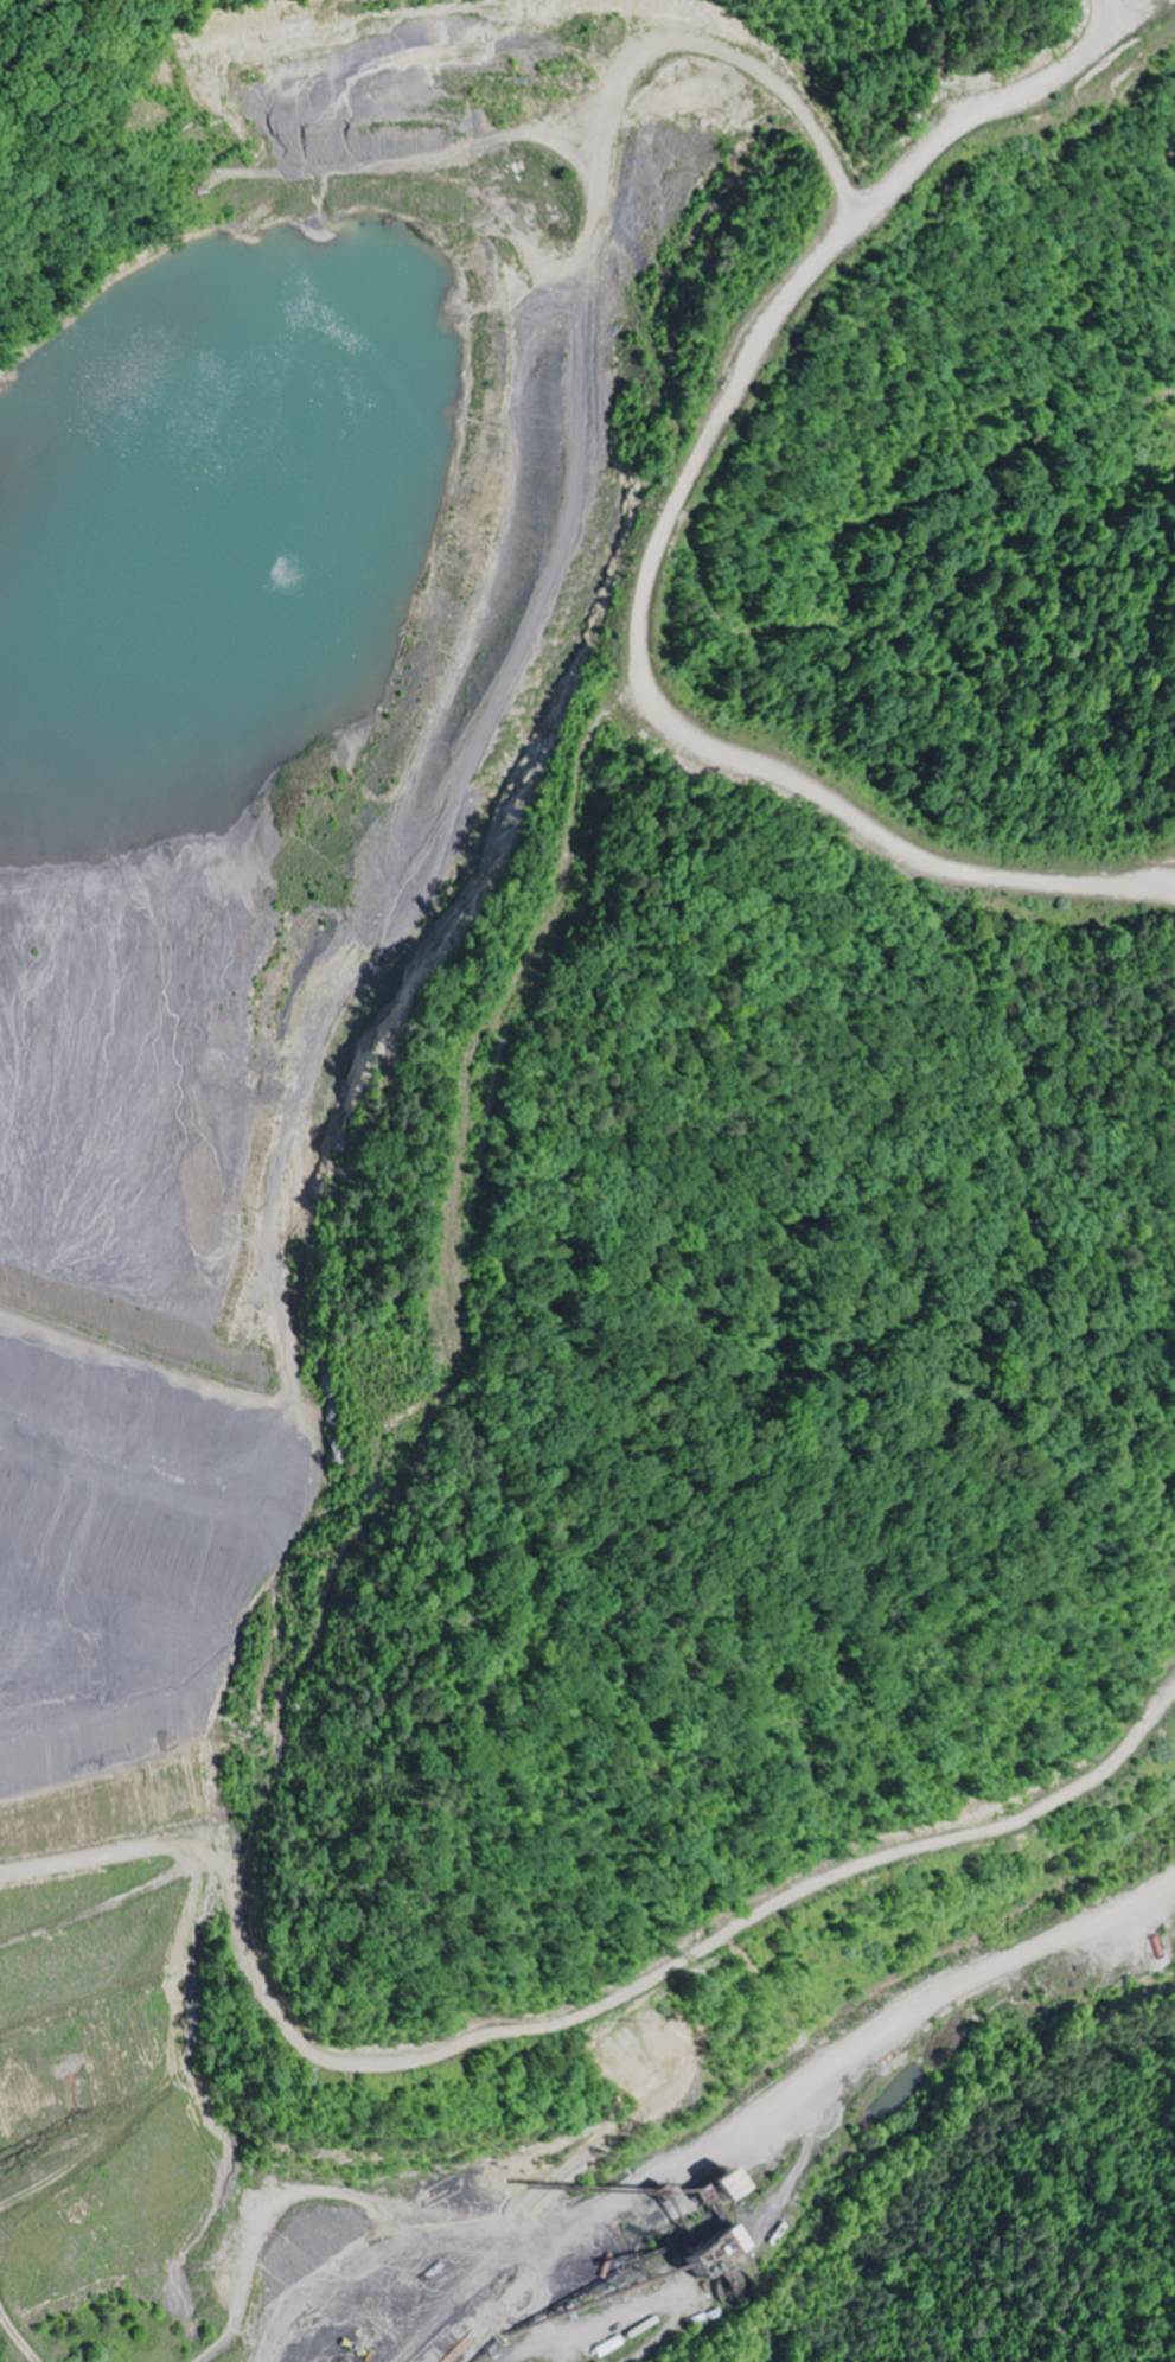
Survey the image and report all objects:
quarry: (523, 1195)
building: (705, 2185)
building: (714, 2241)

